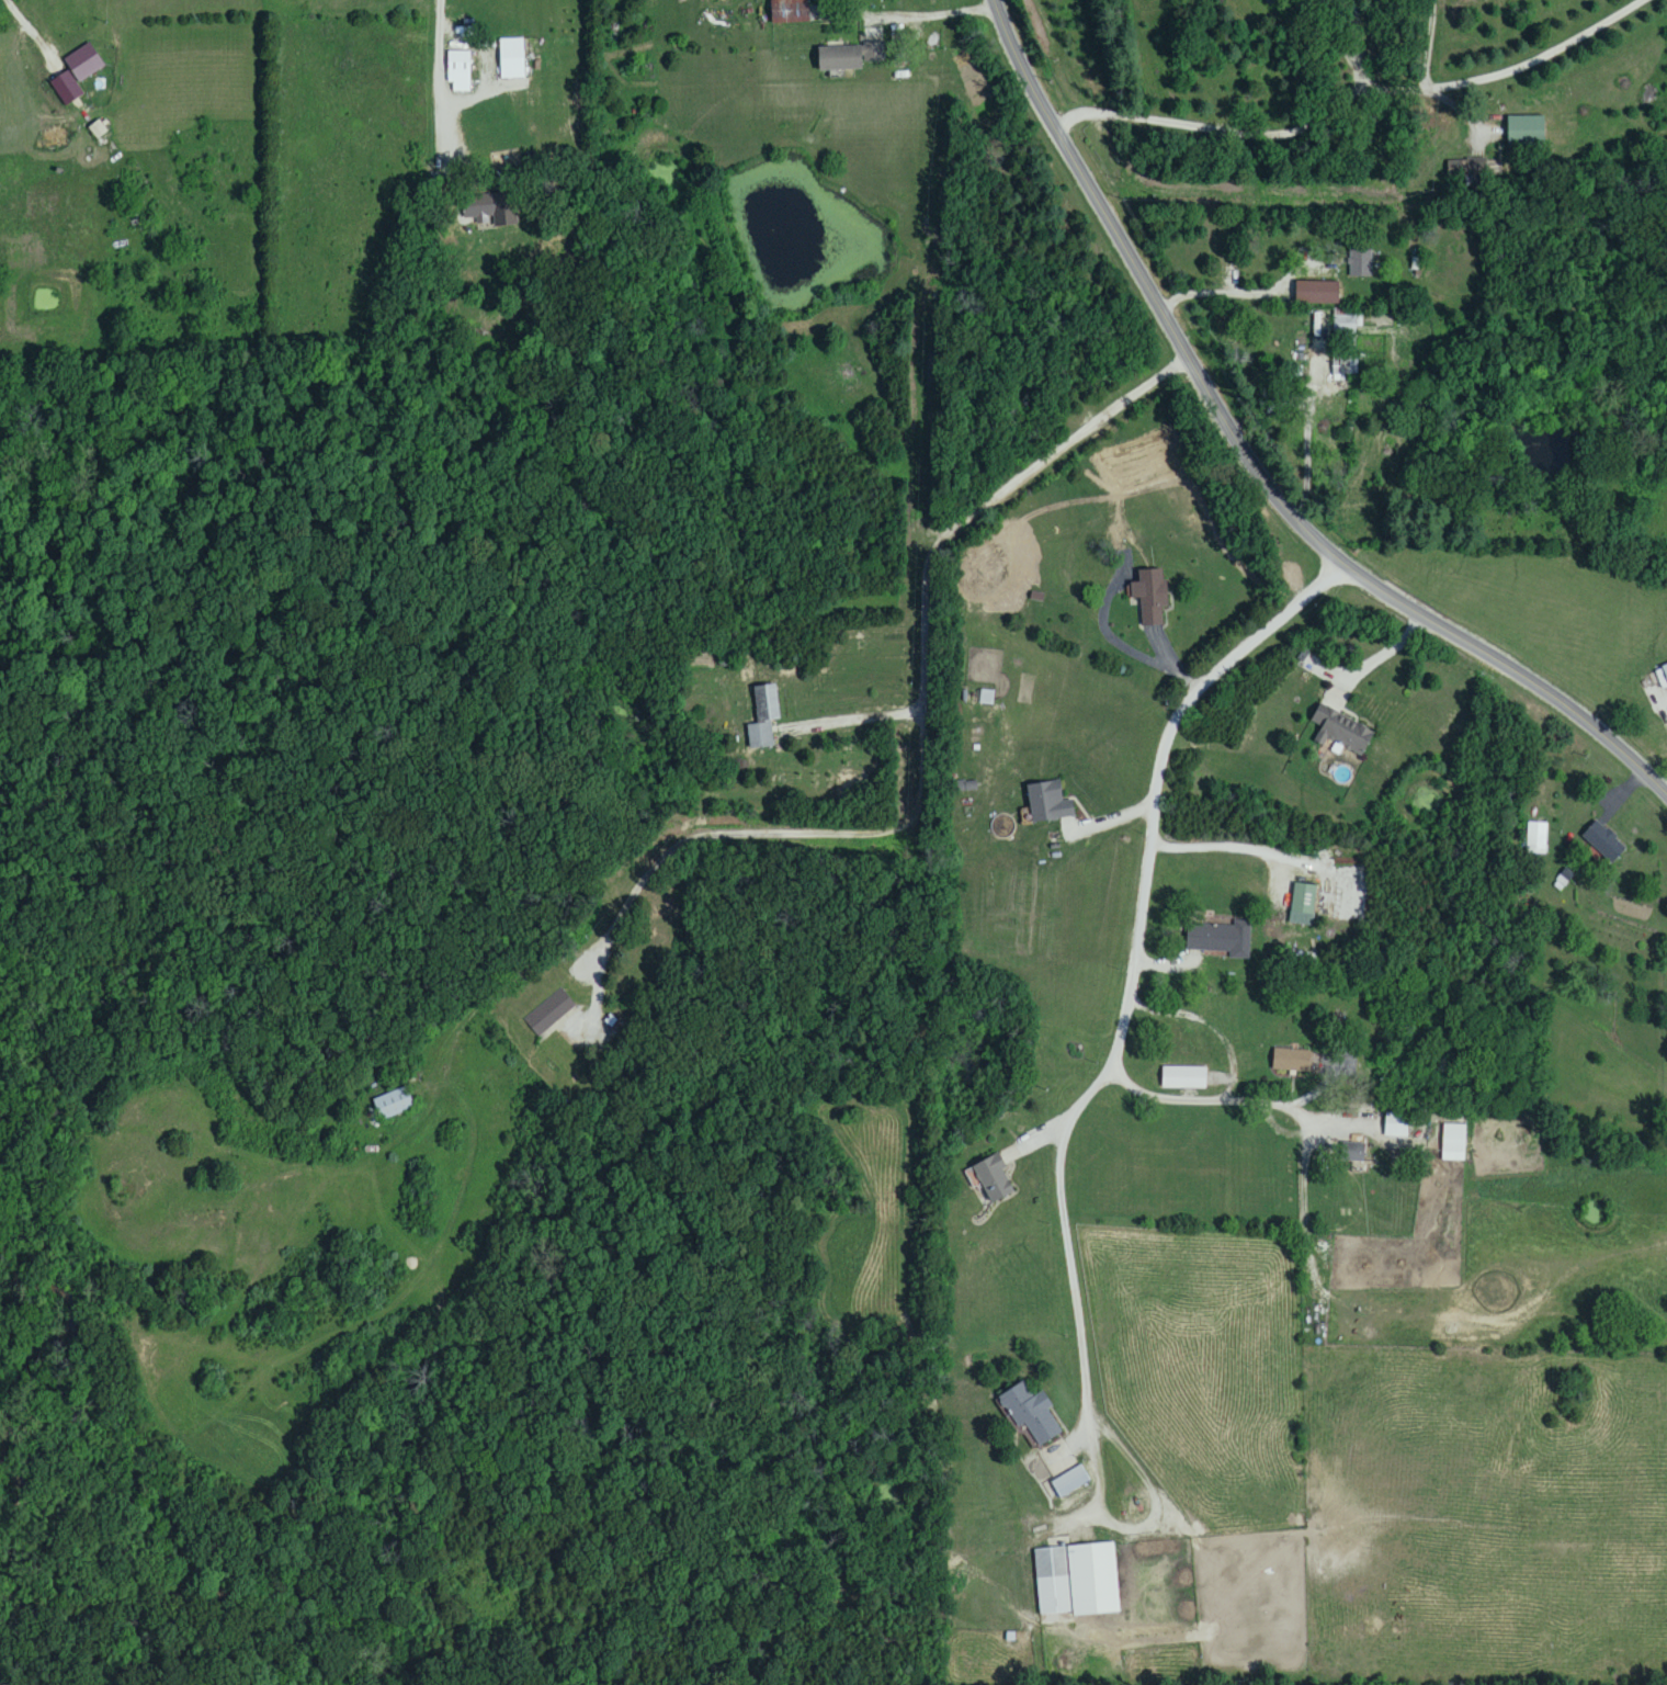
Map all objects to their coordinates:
building: (787, 12)
road: (929, 14)
road: (32, 29)
road: (1347, 32)
road: (1327, 34)
building: (846, 58)
building: (511, 60)
building: (457, 72)
road: (439, 78)
road: (1356, 79)
road: (1352, 100)
building: (1524, 133)
road: (1271, 197)
building: (478, 212)
building: (1360, 265)
road: (1235, 293)
building: (1343, 327)
road: (1307, 442)
road: (1251, 466)
building: (1149, 597)
road: (1379, 659)
road: (1325, 674)
building: (1664, 674)
building: (762, 719)
road: (851, 721)
building: (1339, 731)
road: (1159, 782)
building: (1046, 802)
road: (907, 823)
building: (1539, 838)
building: (1602, 842)
road: (1221, 849)
building: (1303, 900)
building: (1220, 940)
building: (549, 1015)
building: (1290, 1060)
road: (1233, 1075)
building: (1182, 1078)
road: (1272, 1101)
building: (393, 1106)
building: (1395, 1126)
building: (1453, 1139)
building: (1352, 1152)
building: (993, 1178)
road: (1079, 1312)
building: (1029, 1413)
building: (1070, 1482)
building: (1076, 1581)

